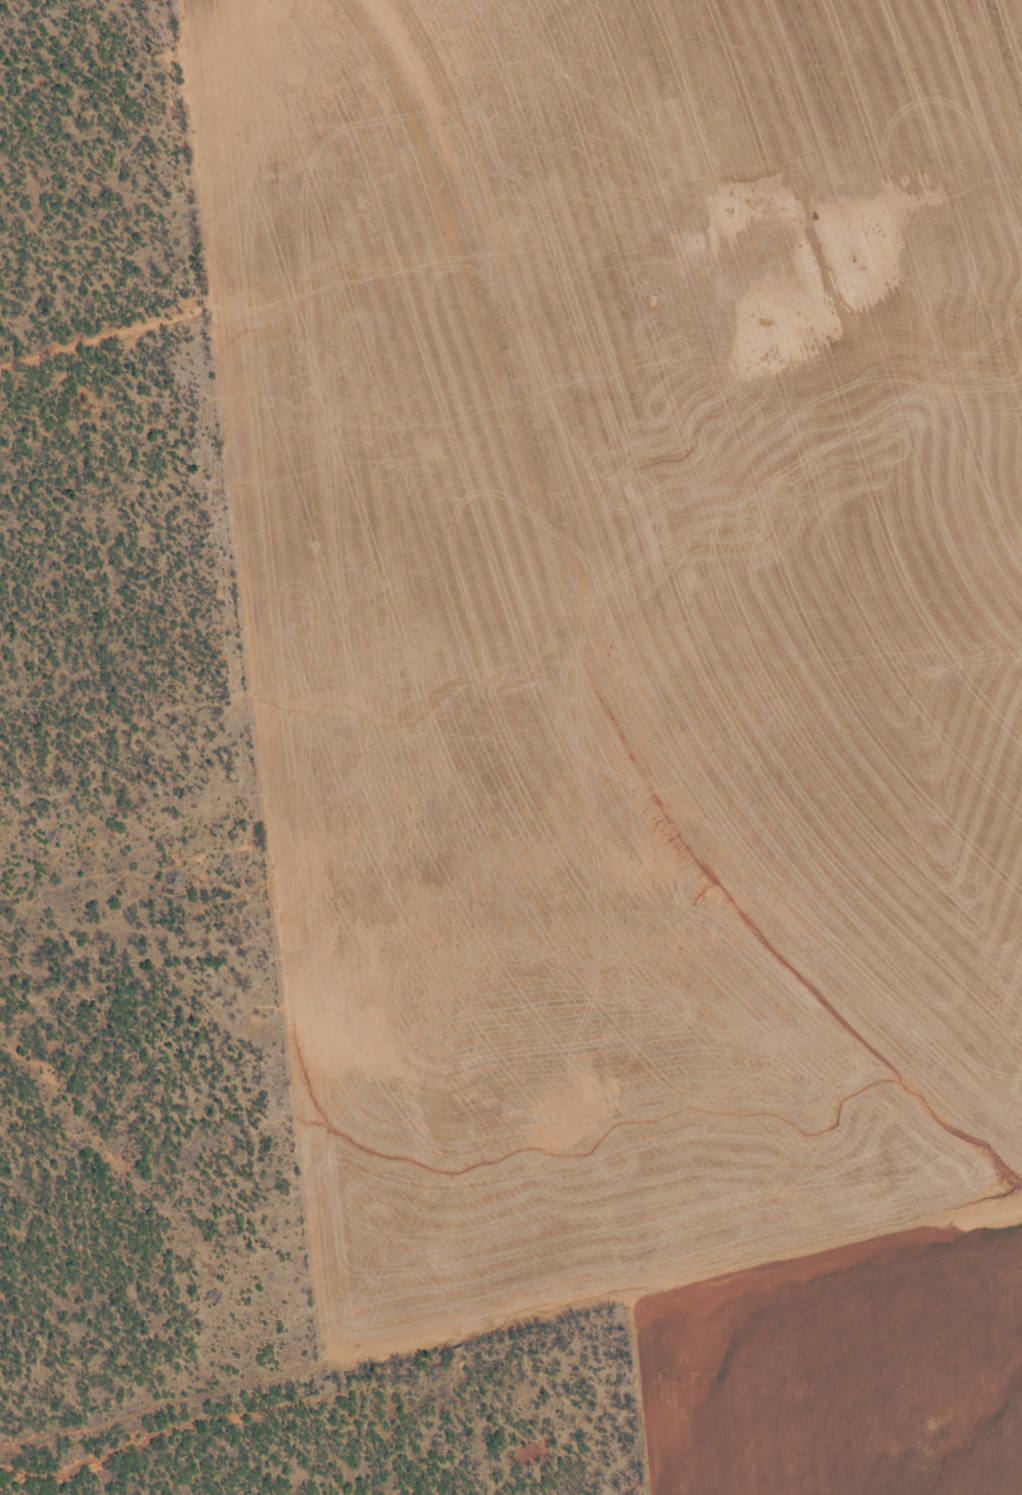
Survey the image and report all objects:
road: (504, 248)
road: (417, 902)
road: (17, 1221)

